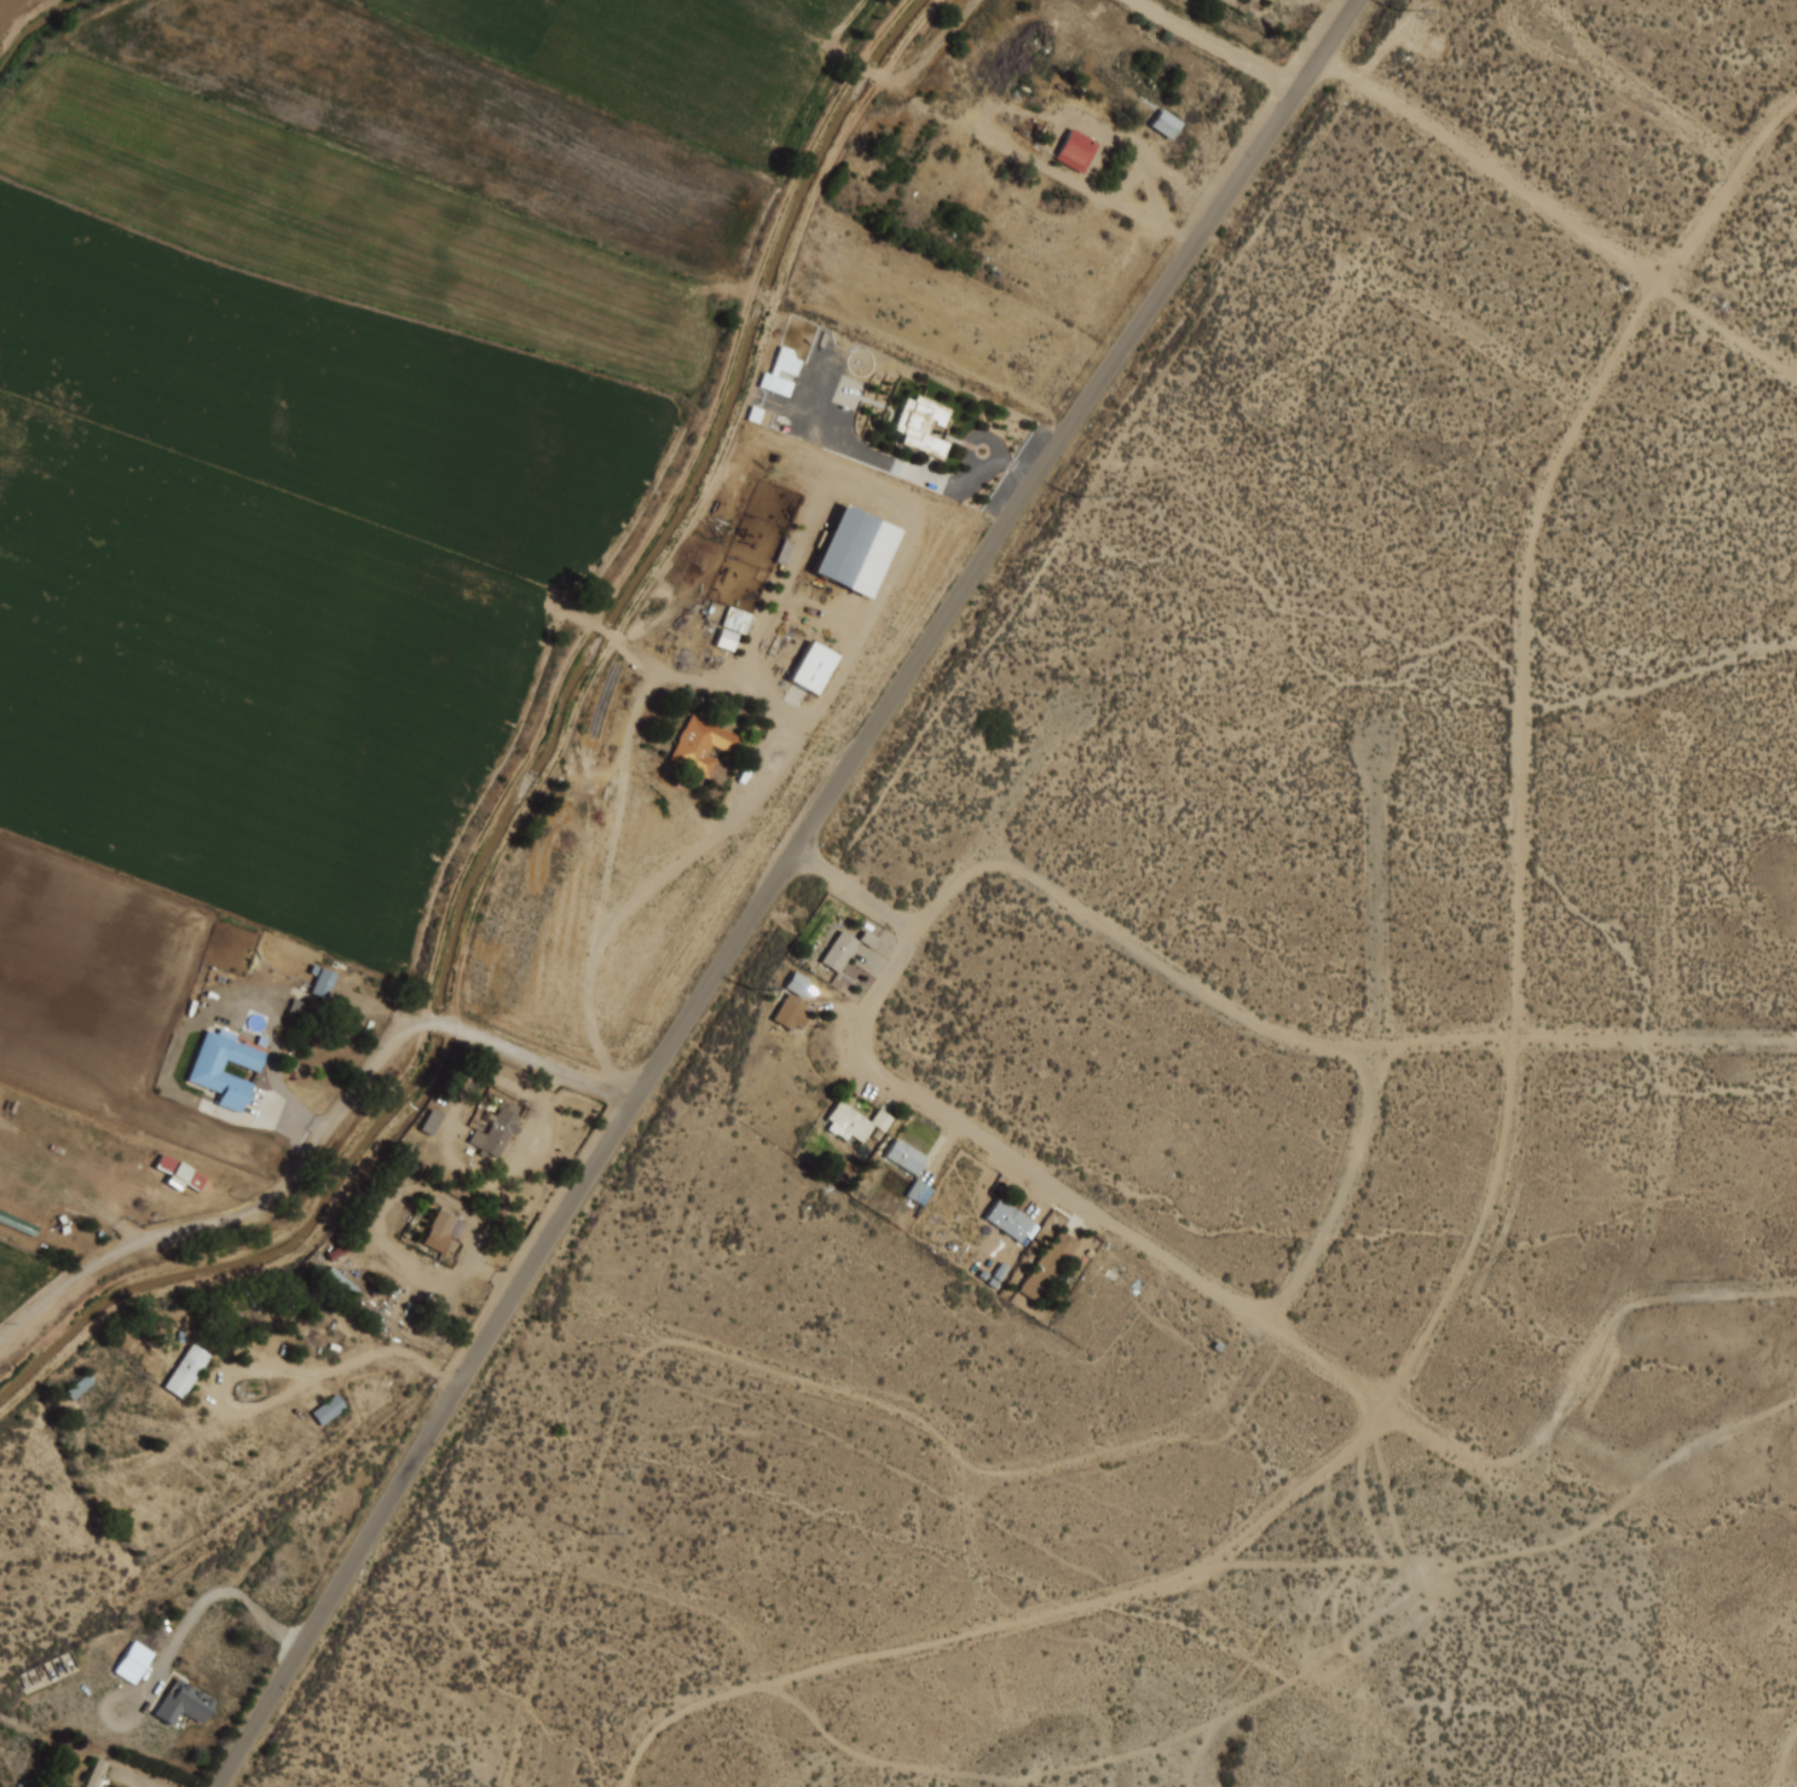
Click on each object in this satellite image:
building: (1042, 40)
road: (1219, 45)
building: (1167, 125)
building: (1077, 150)
road: (1497, 167)
road: (1728, 193)
building: (780, 370)
building: (759, 415)
building: (924, 427)
building: (853, 549)
building: (730, 628)
building: (810, 666)
building: (704, 745)
road: (773, 884)
road: (857, 889)
building: (840, 950)
road: (905, 950)
building: (318, 981)
building: (792, 1012)
building: (208, 1065)
building: (429, 1120)
building: (856, 1122)
building: (498, 1129)
road: (320, 1139)
building: (907, 1156)
building: (178, 1173)
building: (918, 1192)
building: (1011, 1221)
building: (18, 1224)
building: (444, 1230)
road: (1173, 1263)
building: (1050, 1265)
building: (339, 1280)
road: (433, 1369)
building: (186, 1370)
building: (76, 1387)
building: (330, 1410)
road: (212, 1600)
building: (131, 1661)
building: (185, 1704)
building: (0, 1750)
building: (97, 1772)
building: (75, 1786)

